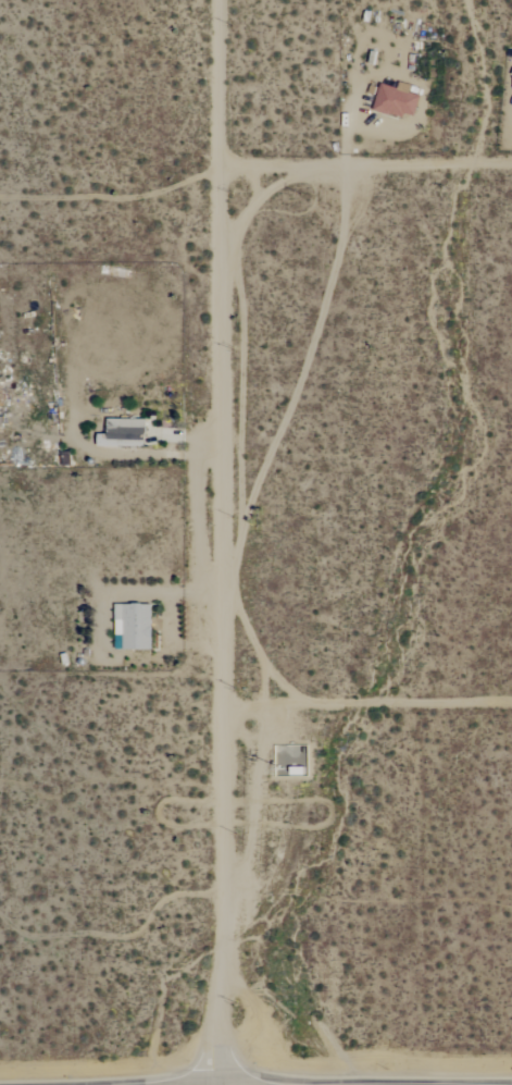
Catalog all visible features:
building: (397, 100)
road: (365, 158)
building: (124, 432)
road: (227, 542)
building: (134, 626)
road: (371, 702)

